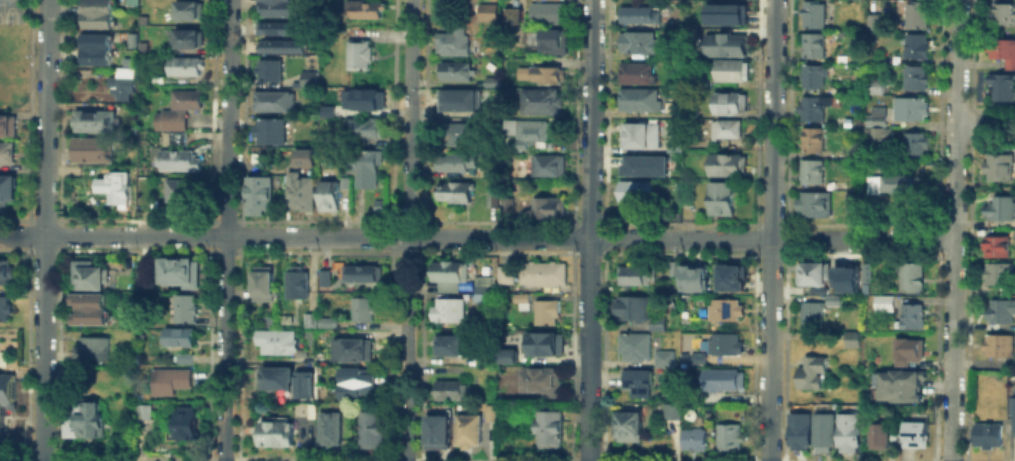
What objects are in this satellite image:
road: (6, 0)
building: (130, 1)
building: (274, 7)
building: (361, 8)
building: (186, 9)
building: (486, 11)
building: (546, 11)
building: (94, 13)
building: (726, 13)
building: (1001, 13)
building: (637, 14)
building: (812, 14)
building: (913, 14)
building: (141, 17)
building: (510, 18)
building: (871, 21)
building: (281, 27)
building: (128, 37)
building: (182, 37)
building: (545, 37)
building: (639, 41)
building: (451, 42)
building: (723, 43)
building: (810, 44)
building: (914, 45)
building: (282, 46)
building: (140, 47)
building: (94, 48)
building: (1002, 50)
building: (357, 53)
road: (956, 61)
building: (183, 65)
building: (265, 68)
building: (729, 69)
building: (453, 70)
building: (635, 71)
building: (547, 73)
building: (810, 74)
building: (306, 76)
building: (913, 76)
building: (120, 77)
building: (701, 78)
building: (490, 81)
building: (870, 84)
building: (999, 85)
building: (185, 97)
building: (536, 97)
building: (362, 98)
building: (636, 98)
building: (271, 99)
building: (456, 99)
building: (728, 101)
building: (812, 106)
building: (907, 107)
building: (488, 109)
building: (688, 112)
building: (875, 112)
building: (167, 117)
building: (93, 119)
road: (985, 123)
building: (7, 124)
building: (361, 126)
building: (267, 128)
building: (722, 128)
building: (524, 131)
building: (454, 132)
building: (875, 133)
building: (174, 134)
building: (635, 134)
building: (809, 138)
building: (916, 140)
building: (672, 146)
building: (91, 151)
building: (5, 152)
building: (300, 154)
building: (177, 158)
building: (451, 159)
building: (725, 163)
building: (643, 164)
building: (363, 165)
building: (997, 165)
building: (545, 166)
building: (809, 171)
building: (894, 182)
building: (871, 183)
building: (6, 186)
building: (116, 188)
building: (299, 188)
building: (178, 189)
building: (632, 189)
building: (453, 190)
building: (255, 193)
building: (328, 195)
building: (719, 198)
building: (814, 200)
building: (849, 201)
building: (496, 202)
building: (546, 205)
building: (997, 207)
road: (47, 230)
road: (226, 230)
road: (407, 230)
road: (588, 230)
road: (772, 230)
building: (1014, 233)
road: (477, 237)
building: (989, 246)
building: (671, 268)
building: (361, 269)
building: (177, 270)
building: (5, 271)
building: (997, 271)
building: (810, 272)
building: (865, 272)
building: (446, 273)
building: (504, 273)
building: (541, 273)
building: (634, 274)
building: (909, 274)
building: (729, 276)
building: (92, 277)
building: (124, 277)
building: (323, 277)
building: (693, 277)
building: (845, 277)
building: (294, 280)
building: (262, 282)
building: (480, 286)
road: (953, 292)
building: (830, 297)
building: (520, 299)
building: (882, 302)
building: (4, 307)
building: (87, 307)
building: (182, 307)
building: (360, 307)
building: (447, 309)
building: (722, 309)
building: (998, 309)
building: (634, 310)
building: (543, 311)
building: (809, 314)
building: (908, 315)
building: (308, 318)
building: (325, 319)
building: (177, 335)
building: (849, 336)
building: (274, 340)
building: (448, 342)
building: (723, 342)
building: (632, 345)
building: (996, 345)
building: (542, 346)
building: (90, 347)
building: (351, 349)
building: (908, 350)
building: (183, 356)
building: (695, 356)
building: (661, 357)
building: (505, 358)
building: (809, 370)
building: (274, 376)
building: (720, 378)
building: (168, 379)
building: (540, 380)
building: (634, 381)
building: (302, 383)
building: (353, 383)
building: (895, 383)
building: (446, 388)
building: (4, 392)
building: (496, 397)
building: (669, 409)
building: (486, 410)
building: (141, 411)
building: (306, 415)
building: (87, 417)
building: (1014, 418)
building: (184, 420)
building: (626, 423)
building: (369, 425)
building: (327, 427)
building: (434, 427)
building: (546, 427)
building: (465, 429)
building: (797, 429)
building: (271, 430)
building: (821, 430)
building: (846, 431)
building: (874, 431)
building: (912, 433)
building: (985, 434)
building: (728, 437)
building: (691, 438)

